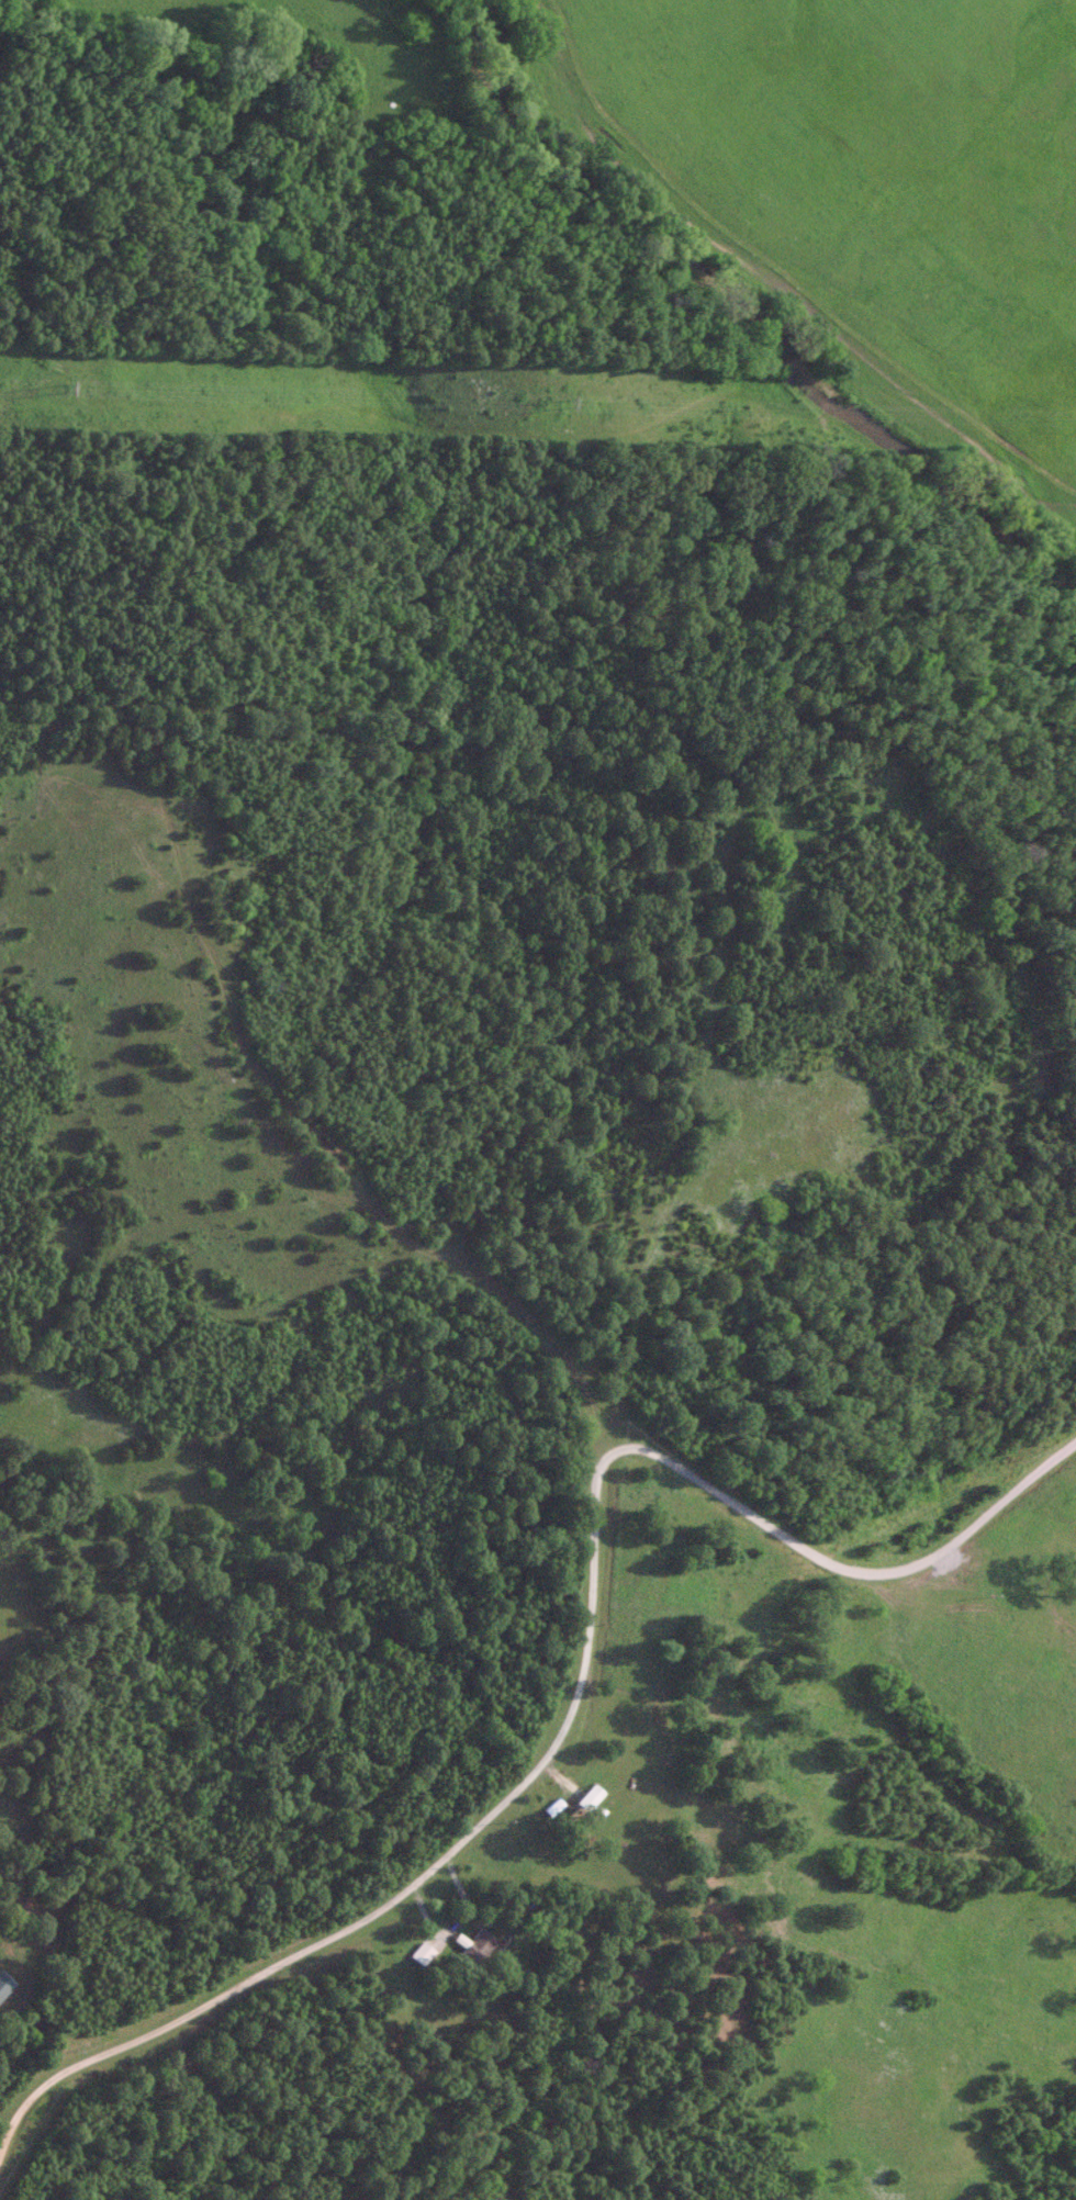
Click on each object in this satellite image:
power tower: (56, 384)
power tower: (546, 395)
building: (587, 1797)
building: (477, 1945)
building: (421, 1952)
building: (4, 1983)

